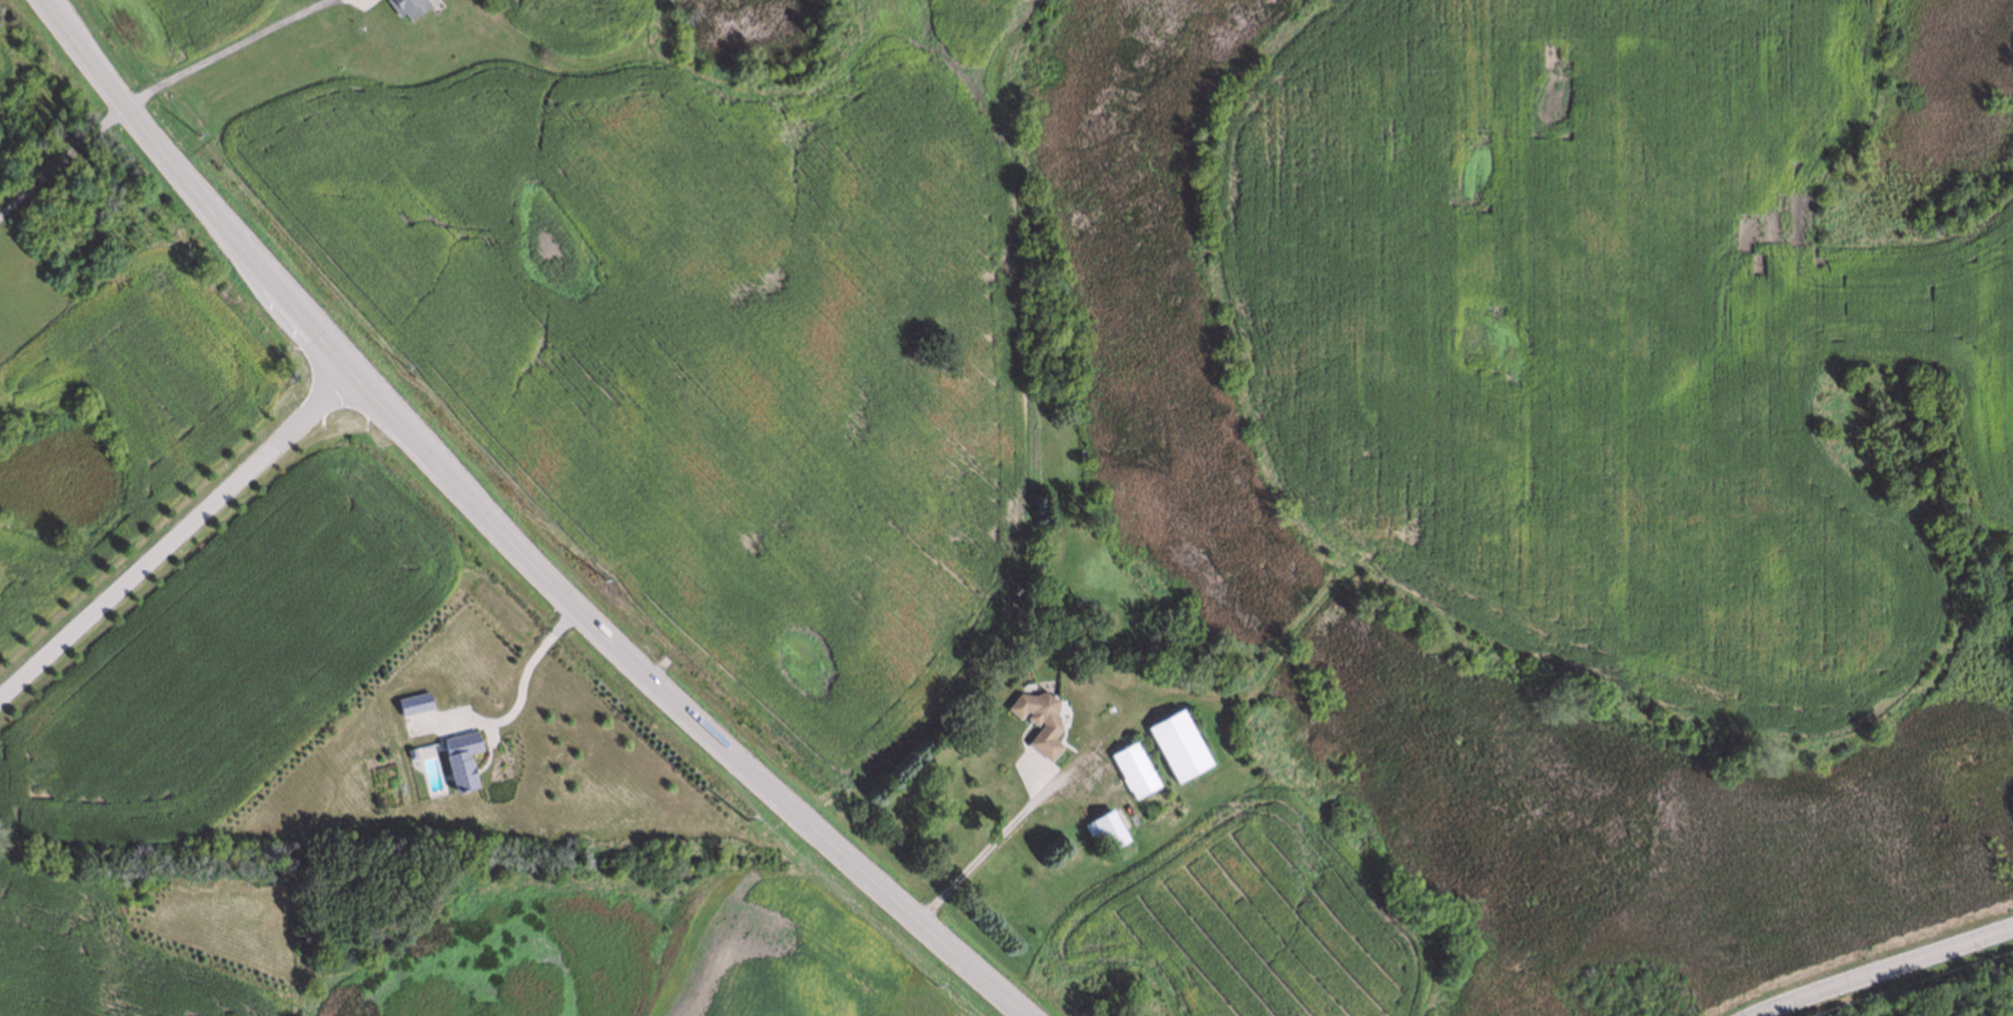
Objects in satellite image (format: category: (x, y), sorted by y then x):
building: (405, 6)
road: (223, 50)
power tower: (193, 129)
road: (61, 156)
road: (175, 529)
road: (507, 536)
road: (528, 660)
building: (407, 699)
building: (1048, 725)
building: (1179, 747)
building: (409, 749)
building: (455, 755)
building: (1134, 771)
building: (1107, 832)
road: (998, 841)
road: (1884, 969)

